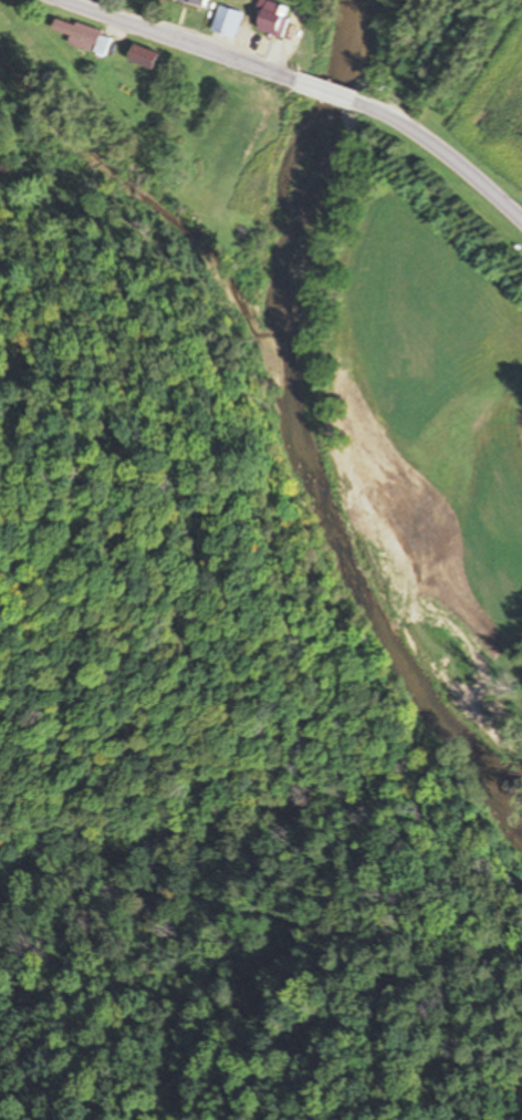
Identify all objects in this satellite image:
building: (191, 2)
building: (272, 20)
building: (227, 22)
building: (75, 33)
road: (176, 41)
building: (142, 59)
road: (326, 92)
road: (442, 154)
river: (299, 459)

